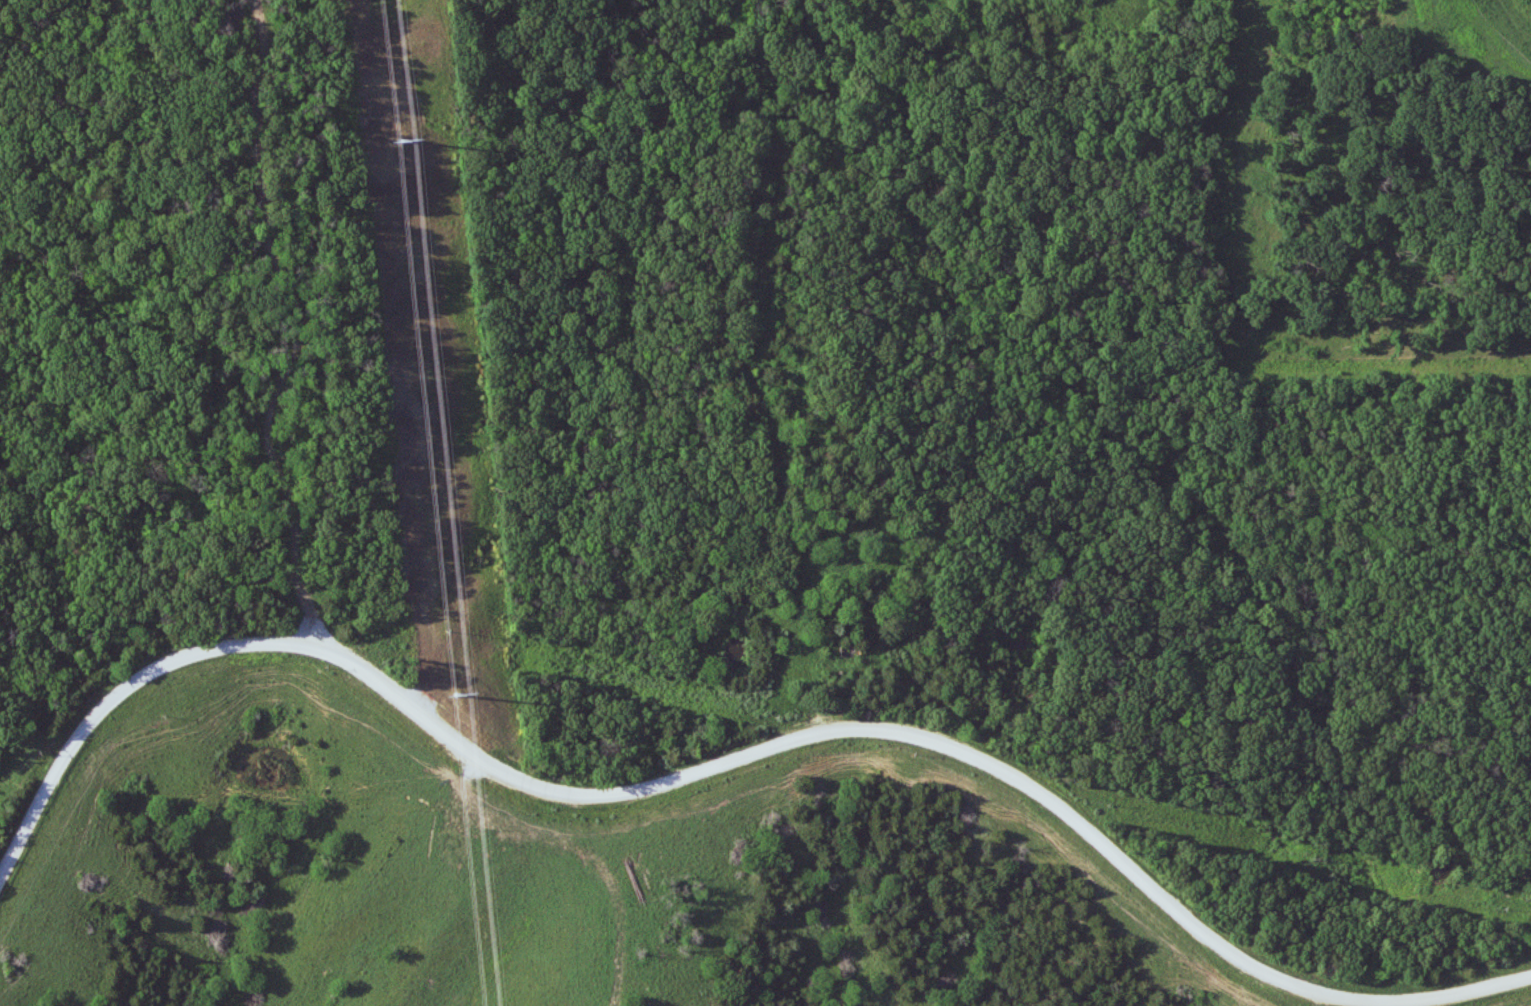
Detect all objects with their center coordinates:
power tower: (393, 147)
power tower: (453, 694)
road: (725, 760)

